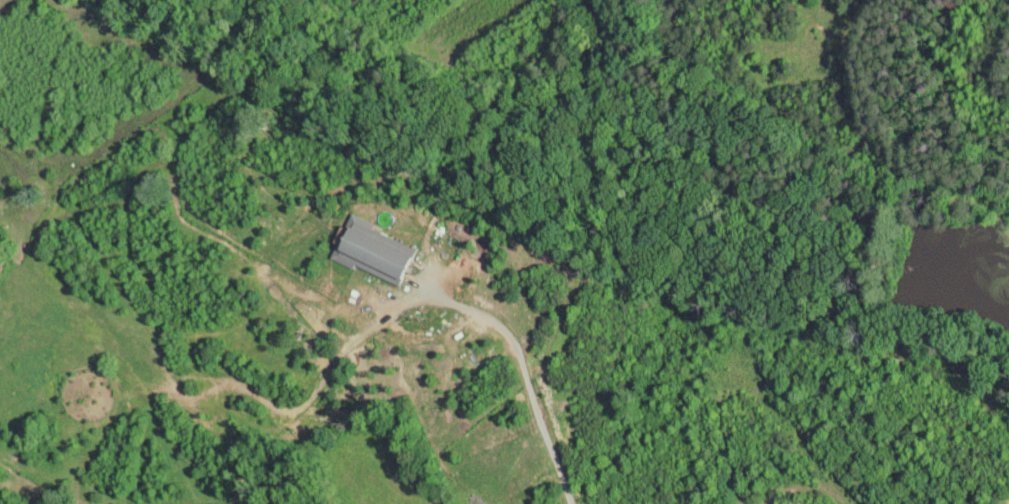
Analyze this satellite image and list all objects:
building: (357, 244)
road: (525, 378)

